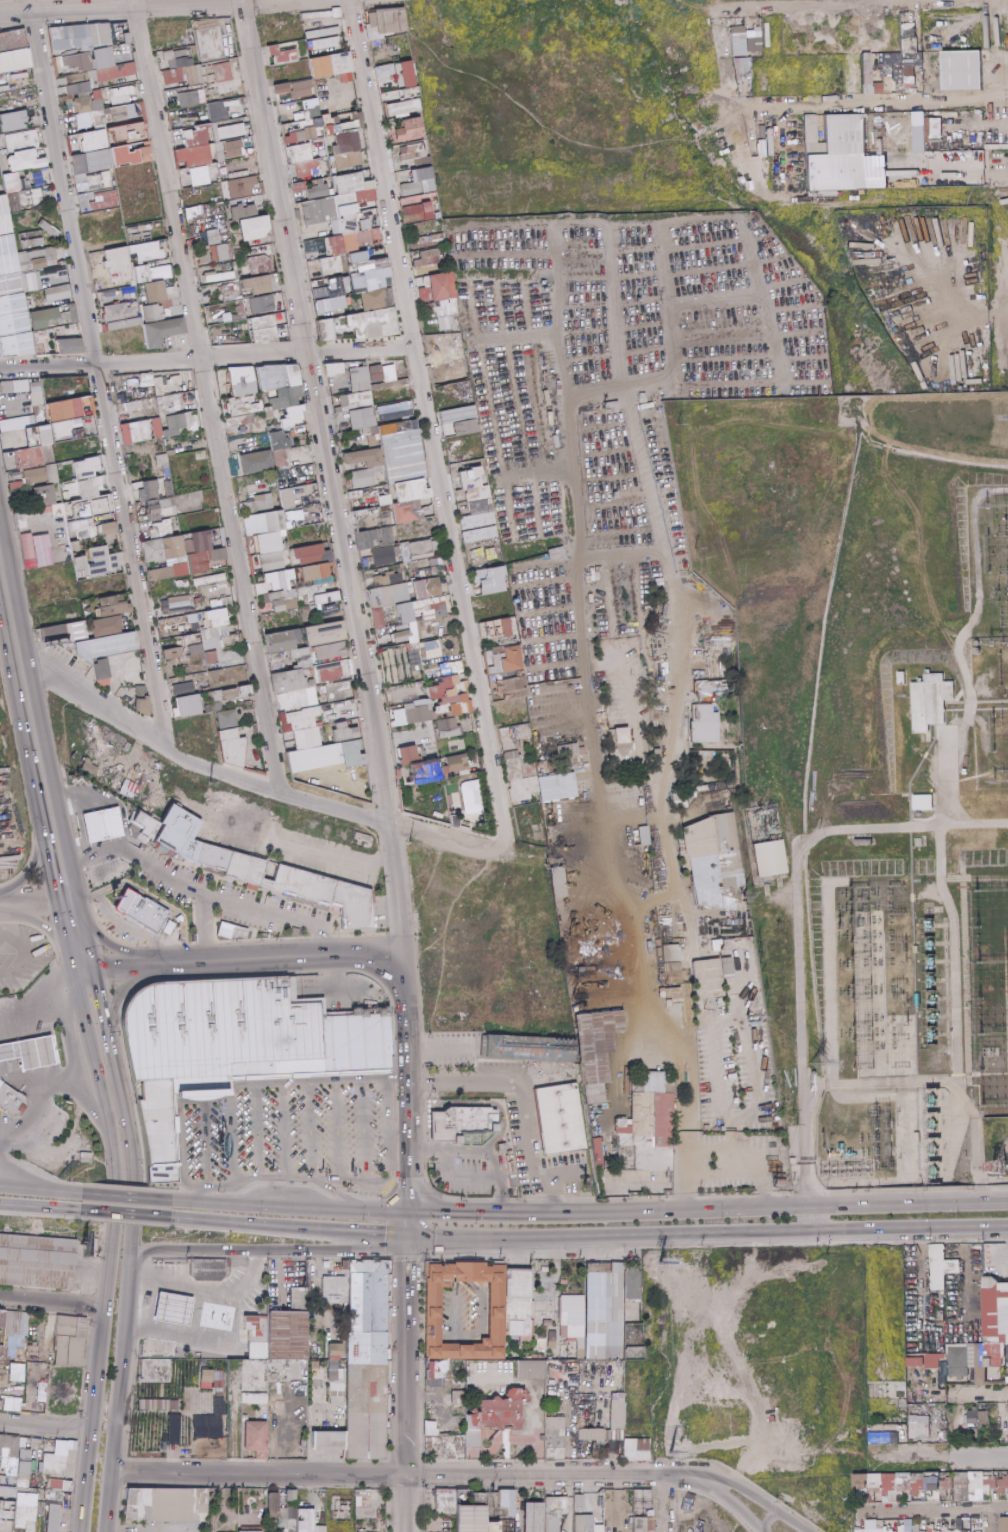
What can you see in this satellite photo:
power tower: (644, 179)
power tower: (670, 408)
power tower: (694, 546)
power substation: (869, 763)
gas station: (97, 821)
power tower: (739, 890)
gas station: (26, 1050)
power tower: (814, 1060)
park: (265, 1084)
gas station: (164, 1308)

